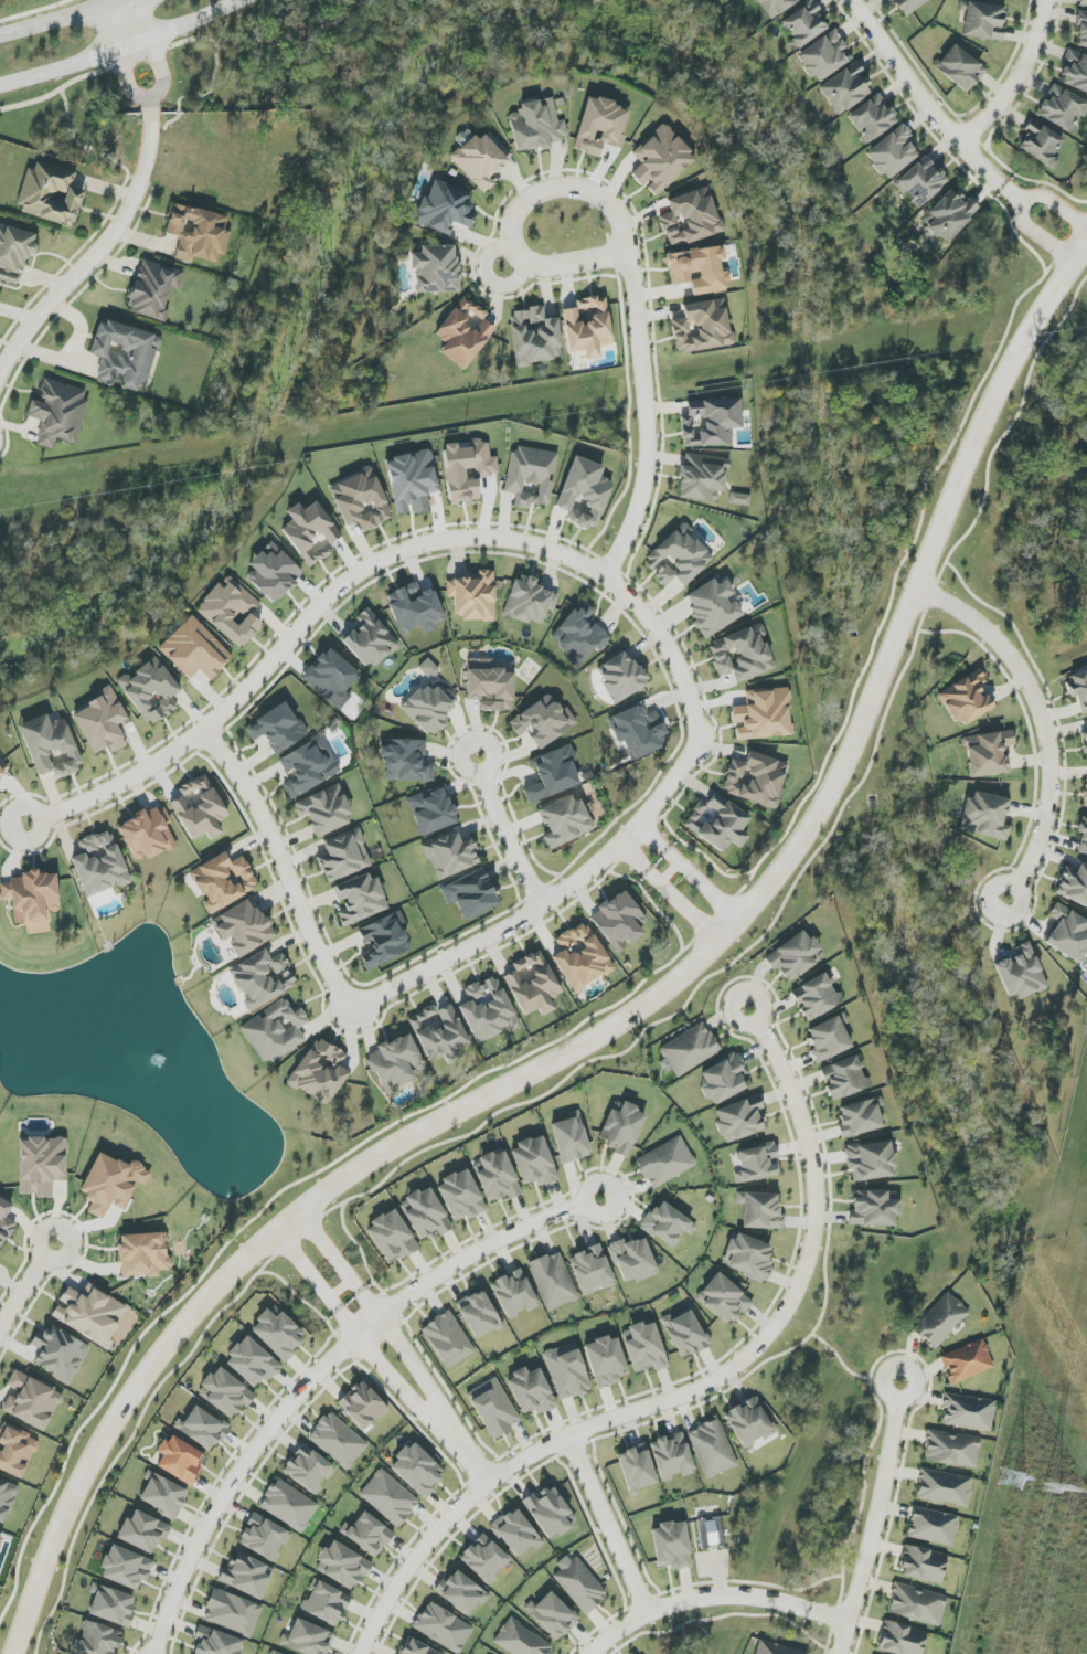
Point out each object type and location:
building: (1084, 3)
building: (908, 6)
building: (775, 7)
road: (57, 18)
building: (982, 20)
road: (128, 22)
building: (803, 24)
building: (1081, 29)
road: (178, 43)
road: (119, 51)
building: (823, 56)
building: (960, 68)
building: (1075, 71)
road: (159, 72)
road: (126, 78)
road: (1016, 81)
building: (845, 89)
road: (929, 107)
building: (1063, 109)
building: (871, 119)
building: (537, 125)
building: (600, 126)
building: (1040, 145)
building: (892, 152)
building: (660, 160)
building: (480, 161)
building: (921, 181)
building: (50, 193)
road: (1020, 206)
building: (443, 209)
building: (949, 215)
building: (690, 218)
building: (198, 234)
road: (98, 251)
building: (14, 253)
road: (590, 259)
building: (436, 268)
building: (699, 269)
road: (633, 288)
building: (153, 289)
road: (1072, 295)
building: (587, 327)
building: (702, 327)
building: (463, 332)
building: (535, 337)
building: (124, 356)
building: (58, 413)
building: (710, 422)
building: (467, 469)
building: (531, 476)
building: (702, 477)
building: (412, 481)
building: (584, 492)
building: (739, 499)
building: (361, 500)
building: (310, 532)
building: (678, 558)
road: (375, 562)
building: (273, 573)
building: (472, 596)
building: (530, 601)
building: (712, 606)
building: (415, 608)
building: (231, 612)
building: (579, 634)
building: (370, 640)
building: (194, 650)
building: (742, 654)
building: (428, 668)
building: (620, 677)
building: (331, 678)
building: (489, 686)
building: (1079, 690)
building: (151, 691)
building: (966, 699)
building: (429, 709)
building: (764, 714)
building: (543, 721)
building: (103, 722)
road: (1043, 723)
building: (277, 728)
building: (638, 731)
building: (1085, 744)
building: (51, 746)
building: (988, 753)
building: (406, 761)
building: (308, 766)
building: (3, 768)
building: (553, 774)
building: (756, 780)
building: (1085, 793)
building: (200, 808)
building: (324, 810)
building: (431, 810)
building: (985, 816)
building: (564, 820)
building: (717, 823)
road: (508, 831)
building: (148, 834)
building: (1083, 835)
building: (450, 856)
building: (343, 857)
building: (99, 863)
road: (286, 867)
road: (669, 870)
road: (689, 870)
building: (223, 881)
building: (1074, 884)
road: (669, 890)
building: (470, 894)
building: (32, 898)
building: (360, 899)
road: (551, 902)
building: (619, 921)
building: (243, 927)
building: (1067, 933)
building: (384, 941)
building: (795, 956)
building: (580, 957)
building: (1021, 973)
building: (262, 978)
building: (532, 984)
building: (816, 997)
building: (488, 1010)
road: (625, 1019)
building: (275, 1031)
building: (439, 1033)
building: (829, 1038)
building: (690, 1050)
fountain: (156, 1060)
building: (396, 1063)
building: (319, 1072)
building: (844, 1078)
building: (724, 1080)
building: (860, 1117)
building: (739, 1120)
building: (621, 1128)
building: (571, 1138)
building: (870, 1160)
building: (534, 1162)
building: (665, 1162)
building: (757, 1164)
building: (41, 1165)
building: (497, 1177)
building: (111, 1184)
building: (461, 1196)
building: (874, 1208)
building: (760, 1210)
building: (425, 1215)
building: (4, 1222)
building: (667, 1223)
building: (391, 1238)
building: (143, 1254)
building: (749, 1258)
building: (632, 1260)
building: (592, 1270)
building: (553, 1281)
road: (28, 1282)
building: (514, 1293)
building: (723, 1300)
road: (376, 1308)
building: (90, 1314)
building: (479, 1314)
building: (940, 1321)
road: (352, 1327)
building: (278, 1333)
building: (685, 1334)
building: (448, 1339)
building: (644, 1347)
building: (58, 1353)
building: (606, 1361)
building: (966, 1361)
building: (252, 1363)
road: (324, 1369)
building: (567, 1371)
road: (697, 1389)
building: (531, 1391)
building: (225, 1393)
building: (31, 1401)
building: (362, 1406)
building: (493, 1408)
building: (968, 1412)
building: (749, 1423)
building: (202, 1428)
building: (338, 1441)
building: (712, 1449)
building: (952, 1449)
building: (15, 1450)
road: (463, 1450)
building: (672, 1456)
building: (180, 1460)
building: (308, 1469)
building: (636, 1469)
building: (417, 1470)
road: (220, 1475)
building: (944, 1487)
power tower: (1047, 1489)
building: (162, 1495)
building: (388, 1497)
building: (7, 1499)
building: (288, 1505)
building: (550, 1512)
road: (875, 1517)
road: (609, 1524)
building: (933, 1526)
building: (142, 1531)
road: (457, 1533)
building: (515, 1533)
building: (711, 1533)
building: (366, 1534)
building: (0, 1535)
building: (264, 1537)
building: (671, 1546)
building: (484, 1558)
power tower: (994, 1559)
building: (342, 1565)
building: (923, 1565)
building: (126, 1568)
building: (246, 1576)
building: (578, 1583)
building: (461, 1592)
road: (713, 1595)
building: (326, 1603)
building: (917, 1604)
building: (111, 1605)
building: (232, 1613)
building: (553, 1615)
road: (720, 1618)
road: (604, 1622)
building: (443, 1628)
road: (830, 1634)
building: (307, 1639)
building: (900, 1639)
building: (98, 1640)
building: (520, 1640)
road: (683, 1640)
building: (216, 1642)
building: (415, 1647)
building: (775, 1648)
road: (597, 1651)
building: (274, 1653)

